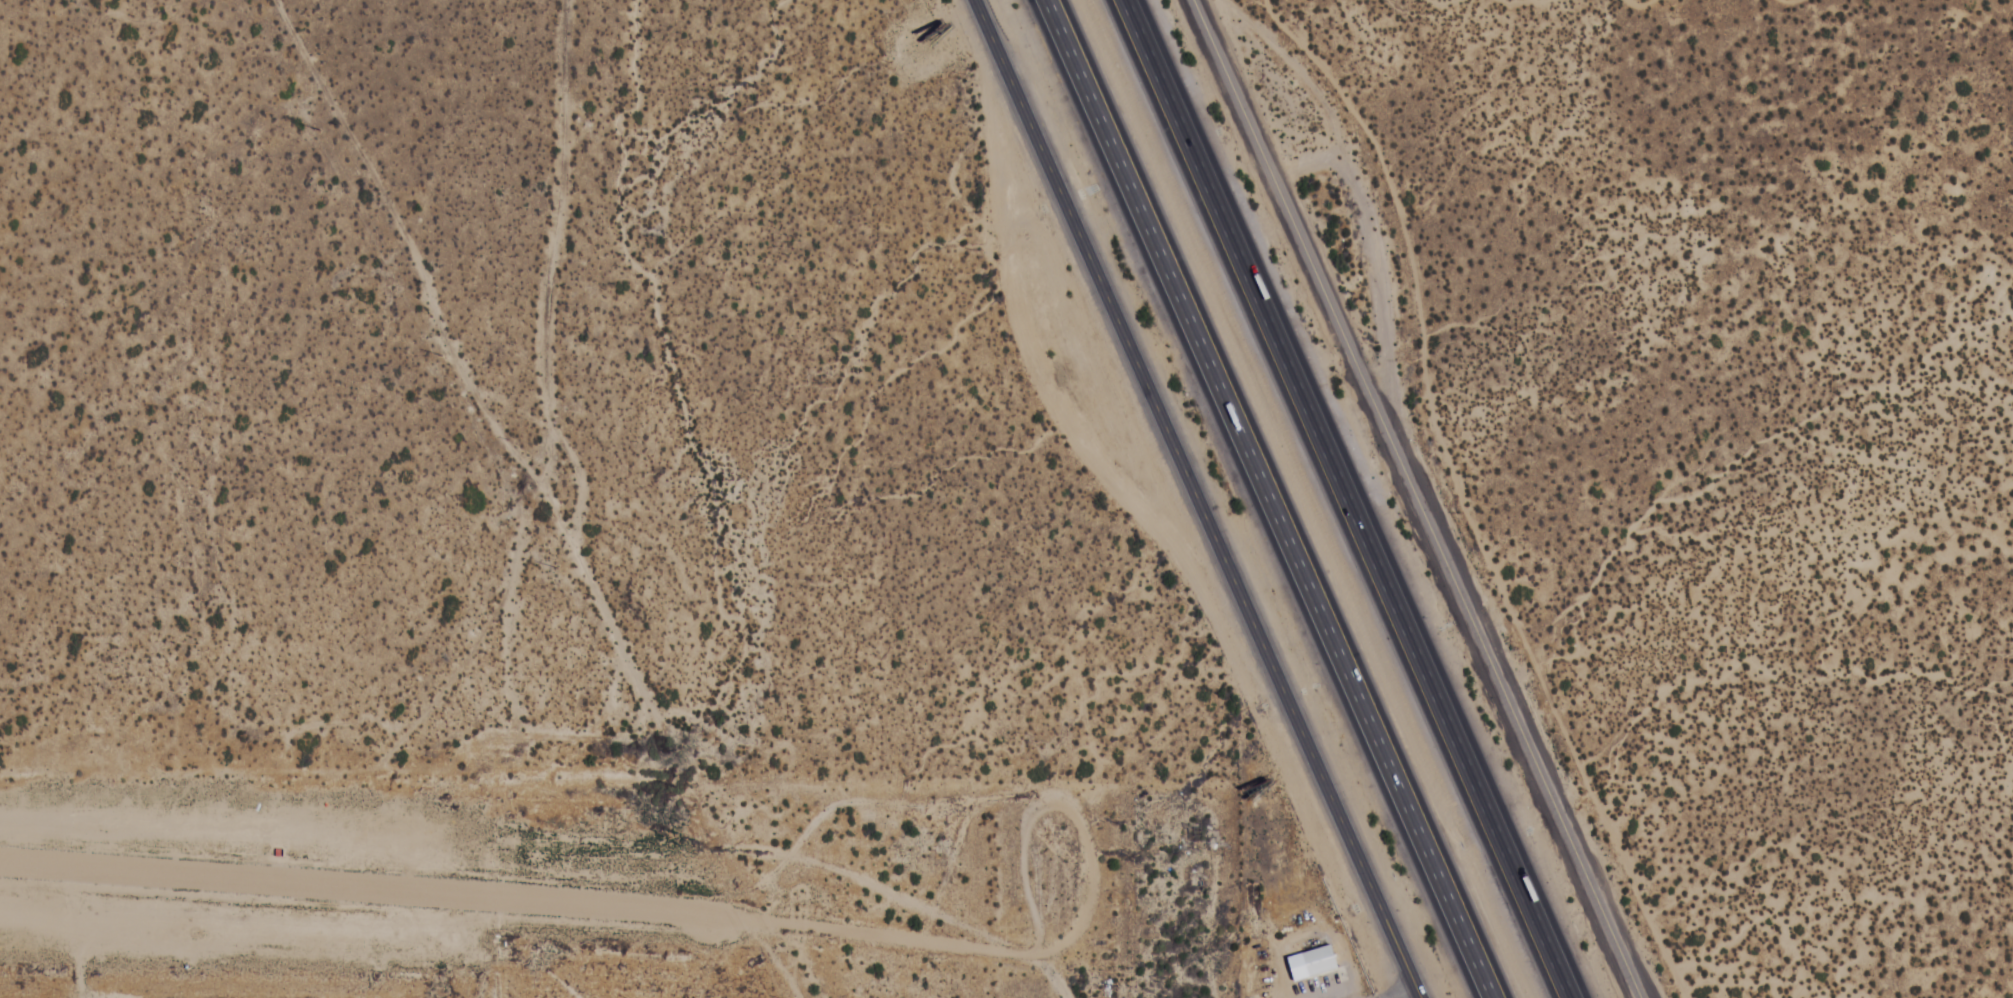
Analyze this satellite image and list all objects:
road: (575, 392)
road: (1199, 499)
road: (1268, 499)
road: (1345, 499)
road: (1419, 499)
road: (74, 976)
road: (1397, 990)

